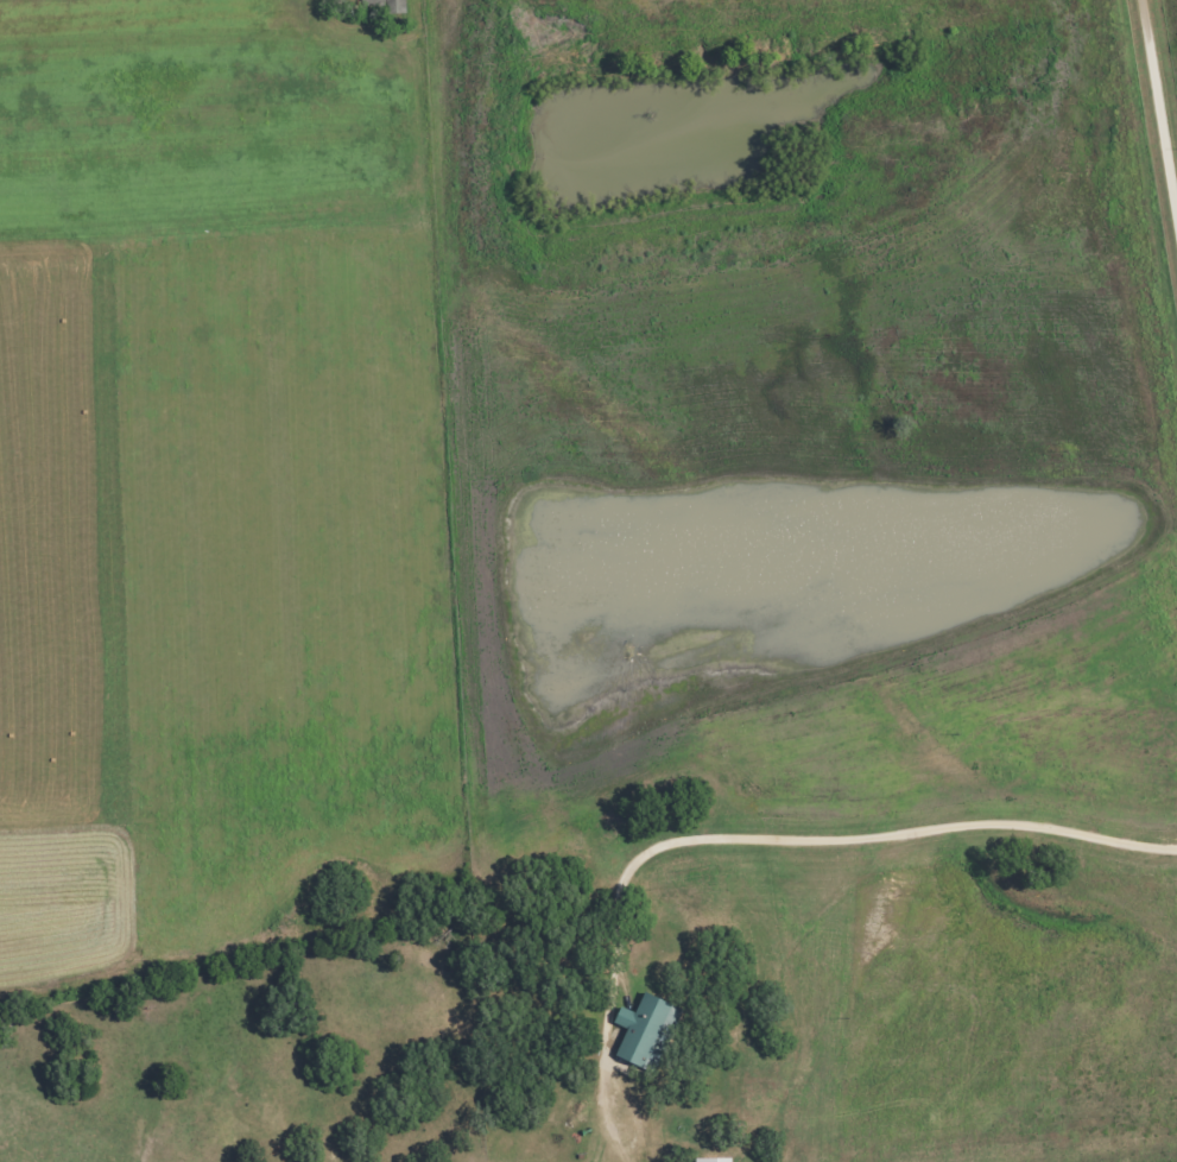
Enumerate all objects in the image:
building: (380, 6)
road: (1160, 100)
building: (640, 1031)

